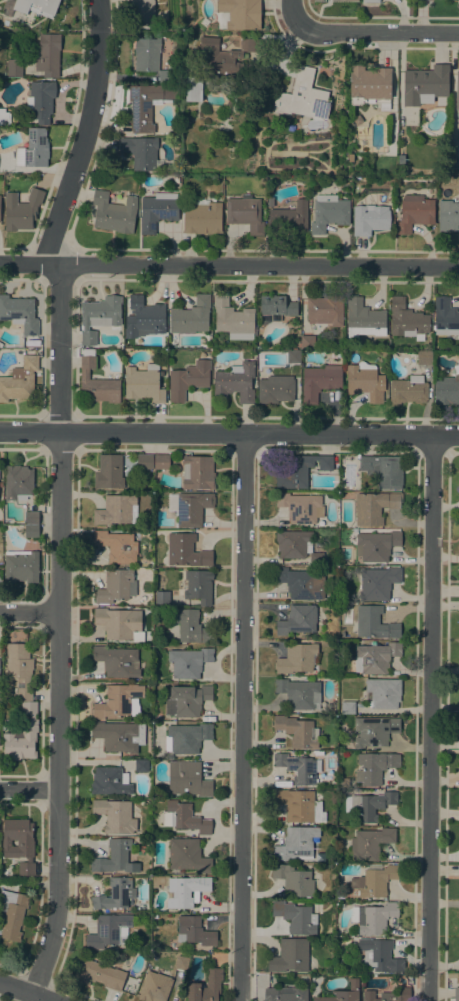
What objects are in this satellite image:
building: (335, 0)
building: (371, 1)
building: (37, 6)
building: (141, 10)
road: (295, 13)
building: (238, 14)
road: (377, 34)
building: (47, 54)
building: (146, 54)
building: (226, 55)
building: (14, 67)
building: (163, 76)
building: (369, 85)
building: (426, 86)
building: (193, 89)
building: (457, 90)
building: (303, 97)
building: (40, 101)
building: (146, 105)
building: (228, 105)
building: (3, 116)
building: (187, 120)
building: (357, 120)
road: (89, 134)
building: (34, 149)
building: (141, 152)
building: (377, 159)
building: (401, 159)
building: (270, 201)
building: (21, 210)
building: (157, 210)
building: (114, 212)
building: (245, 213)
building: (329, 213)
building: (414, 213)
building: (448, 216)
building: (202, 217)
building: (289, 217)
building: (369, 219)
road: (229, 264)
building: (275, 308)
building: (326, 310)
building: (19, 313)
building: (191, 316)
building: (99, 317)
building: (445, 317)
building: (144, 318)
building: (233, 319)
building: (363, 319)
building: (406, 319)
building: (308, 342)
building: (293, 357)
building: (423, 358)
building: (188, 379)
building: (19, 380)
building: (319, 381)
building: (364, 381)
building: (96, 382)
building: (235, 382)
building: (143, 384)
building: (275, 389)
building: (408, 390)
building: (446, 390)
road: (229, 432)
building: (145, 461)
building: (161, 461)
building: (297, 469)
building: (383, 470)
building: (109, 472)
building: (198, 472)
building: (18, 482)
building: (300, 507)
building: (374, 507)
building: (192, 508)
building: (114, 510)
building: (30, 517)
building: (31, 531)
building: (296, 545)
building: (376, 545)
building: (116, 546)
building: (186, 551)
building: (20, 566)
building: (301, 583)
building: (378, 583)
building: (196, 585)
building: (116, 586)
building: (162, 598)
road: (29, 613)
building: (297, 620)
building: (119, 623)
building: (374, 623)
building: (190, 626)
road: (59, 629)
building: (297, 658)
building: (375, 658)
building: (117, 661)
building: (188, 662)
building: (19, 668)
building: (383, 692)
building: (299, 693)
building: (186, 700)
building: (116, 701)
building: (133, 706)
building: (347, 707)
road: (242, 717)
road: (430, 717)
building: (297, 731)
building: (374, 731)
building: (22, 736)
building: (119, 736)
building: (186, 738)
building: (141, 766)
building: (374, 767)
building: (297, 768)
building: (187, 779)
building: (109, 781)
road: (30, 789)
building: (296, 804)
building: (370, 805)
building: (115, 815)
building: (186, 817)
building: (19, 843)
building: (370, 843)
building: (296, 844)
building: (187, 855)
building: (115, 858)
building: (293, 880)
building: (374, 880)
building: (182, 890)
building: (115, 894)
building: (13, 914)
building: (295, 917)
building: (373, 918)
building: (109, 931)
building: (194, 931)
building: (132, 948)
building: (378, 955)
building: (290, 956)
building: (180, 962)
building: (98, 974)
building: (154, 987)
building: (206, 987)
road: (26, 991)
building: (343, 993)
building: (285, 994)
building: (388, 995)
building: (455, 995)

